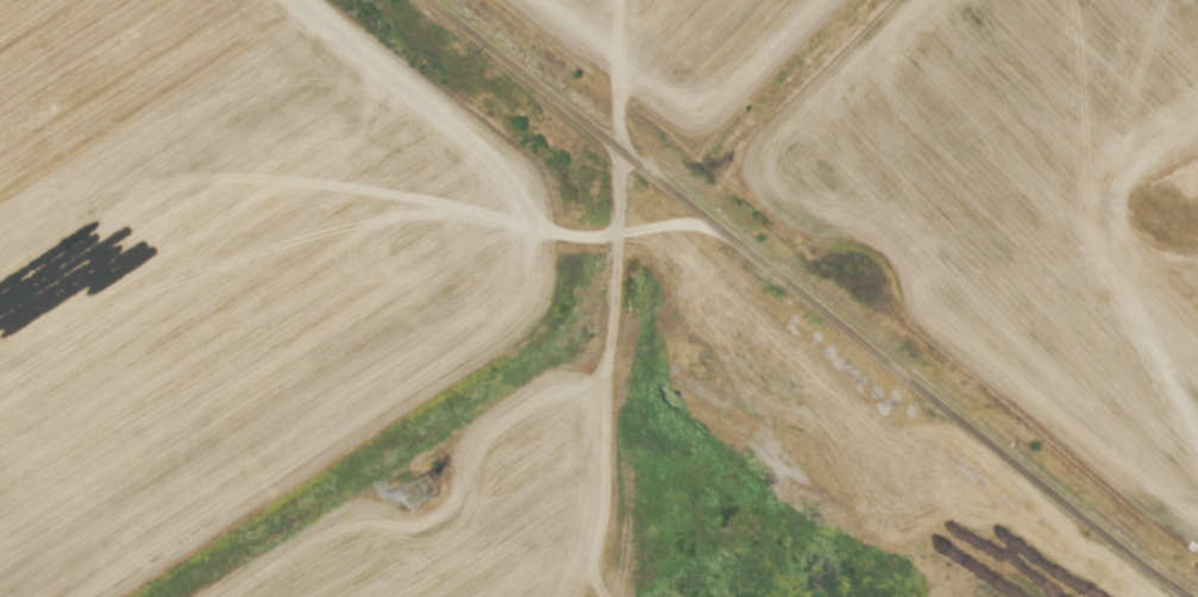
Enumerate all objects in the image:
road: (811, 298)
power tower: (421, 490)

